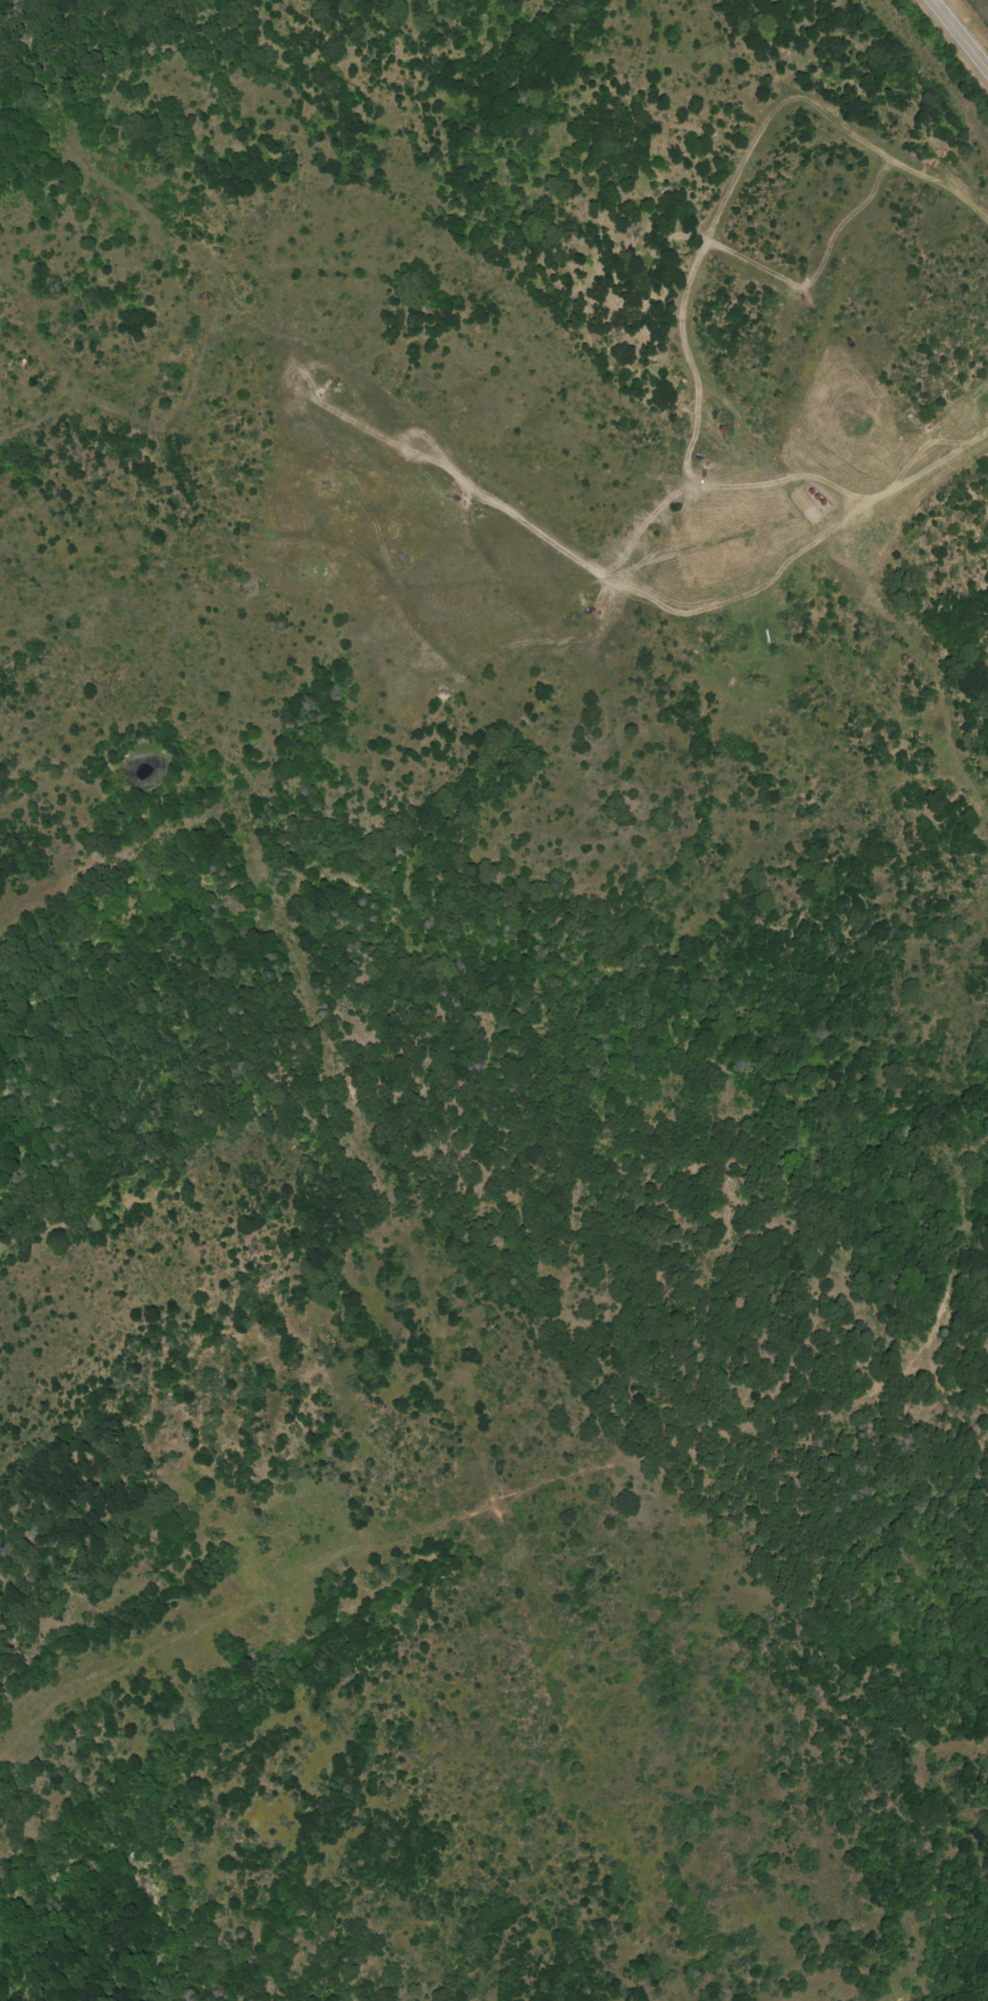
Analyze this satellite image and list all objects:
road: (960, 34)

